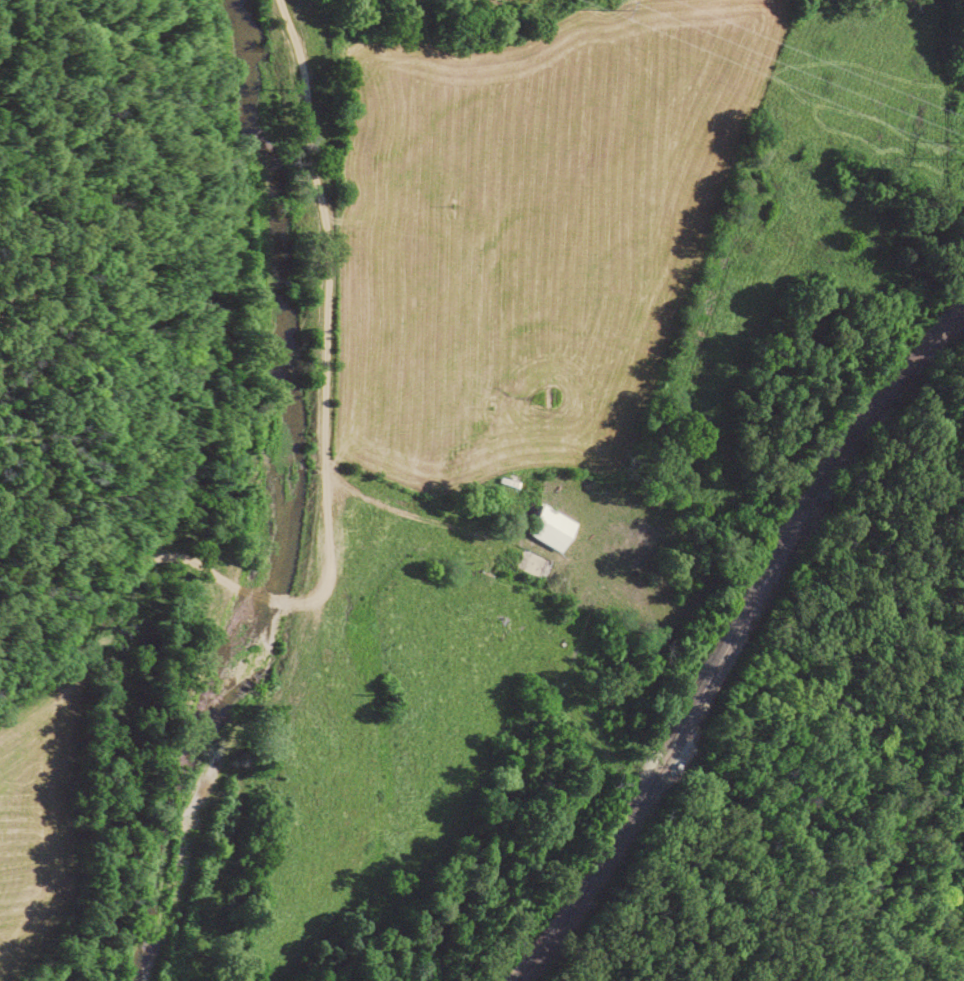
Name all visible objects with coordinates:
power tower: (615, 5)
road: (328, 491)
road: (402, 511)
building: (552, 528)
railway: (734, 641)

